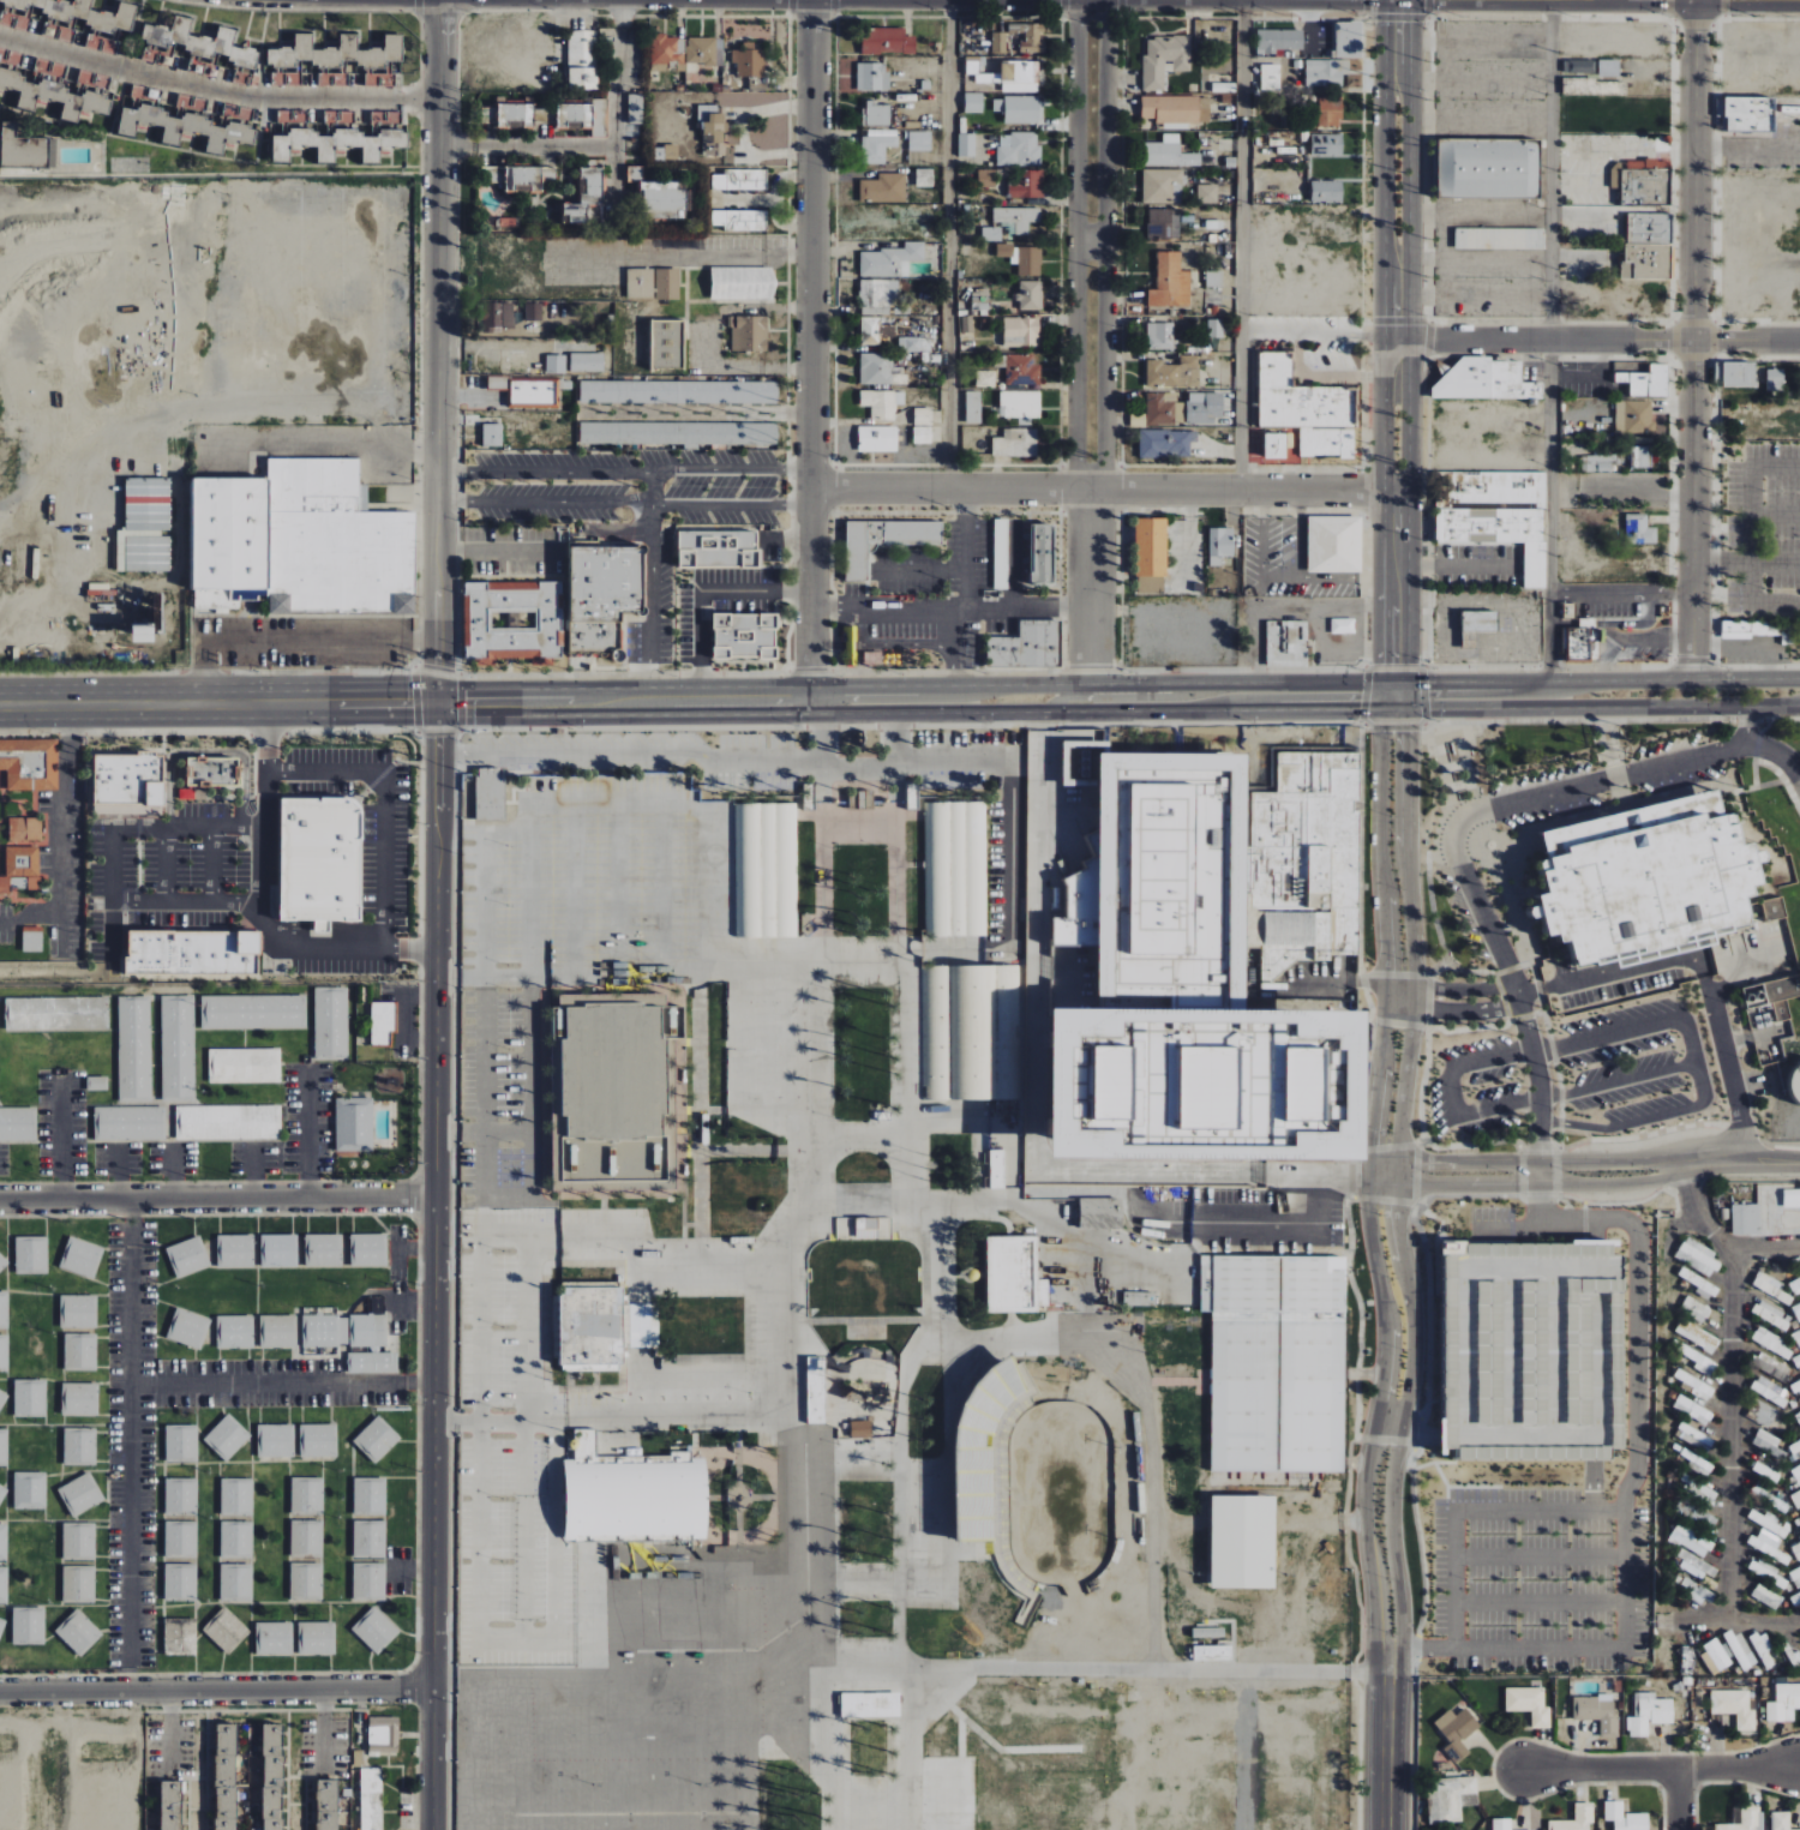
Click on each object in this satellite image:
building: (65, 19)
building: (1030, 36)
building: (1278, 40)
building: (1349, 40)
building: (197, 41)
building: (887, 41)
building: (1000, 42)
building: (704, 50)
building: (666, 53)
building: (151, 55)
building: (10, 58)
building: (582, 59)
building: (336, 60)
building: (1164, 60)
building: (749, 62)
building: (198, 67)
building: (1608, 67)
building: (1330, 73)
building: (1020, 76)
building: (872, 77)
building: (1270, 77)
road: (215, 89)
building: (59, 90)
building: (731, 98)
building: (973, 102)
building: (635, 108)
building: (1020, 108)
building: (1176, 109)
building: (1328, 112)
building: (876, 113)
building: (1750, 114)
building: (290, 115)
building: (510, 115)
building: (338, 116)
building: (582, 116)
building: (188, 126)
building: (712, 131)
building: (919, 140)
building: (337, 143)
building: (966, 145)
building: (1327, 145)
road: (595, 146)
building: (24, 149)
building: (876, 149)
building: (1019, 149)
building: (666, 152)
building: (1169, 152)
building: (1488, 168)
building: (635, 173)
building: (924, 178)
building: (986, 178)
building: (740, 180)
building: (1642, 182)
building: (1027, 185)
building: (1162, 186)
building: (883, 187)
road: (1398, 188)
building: (1326, 191)
building: (1207, 193)
building: (583, 196)
building: (661, 199)
building: (1016, 218)
building: (740, 220)
building: (1164, 224)
building: (205, 229)
building: (991, 234)
building: (1499, 239)
road: (948, 244)
building: (1648, 246)
road: (683, 256)
building: (1021, 258)
building: (889, 259)
building: (1214, 278)
building: (1170, 282)
building: (640, 283)
building: (742, 283)
building: (667, 284)
building: (878, 293)
building: (1030, 295)
building: (533, 312)
building: (497, 316)
building: (1216, 329)
building: (870, 330)
building: (1021, 331)
road: (438, 334)
building: (749, 334)
road: (1321, 334)
building: (1160, 336)
road: (1598, 338)
road: (714, 340)
road: (1691, 340)
road: (1547, 341)
road: (1090, 342)
road: (1247, 342)
building: (666, 343)
road: (809, 343)
building: (914, 344)
building: (584, 360)
building: (876, 368)
building: (1021, 371)
building: (1174, 372)
building: (1735, 374)
road: (1327, 377)
building: (985, 378)
building: (1775, 378)
building: (1466, 379)
building: (1646, 382)
building: (497, 383)
building: (678, 391)
building: (534, 394)
building: (882, 403)
building: (1020, 404)
road: (250, 407)
building: (973, 408)
building: (1307, 408)
building: (1164, 409)
building: (923, 416)
building: (1627, 416)
building: (678, 433)
building: (492, 434)
building: (923, 436)
building: (877, 438)
building: (1015, 443)
building: (1166, 444)
building: (1640, 457)
building: (1597, 463)
road: (624, 468)
road: (1109, 488)
road: (624, 503)
building: (146, 504)
building: (1495, 514)
road: (1754, 517)
road: (1384, 518)
road: (1408, 518)
building: (1639, 529)
building: (883, 541)
building: (299, 542)
building: (1334, 544)
building: (1219, 545)
road: (499, 550)
building: (718, 550)
building: (1040, 553)
building: (1001, 554)
building: (1150, 556)
building: (14, 558)
road: (1723, 562)
road: (652, 563)
road: (706, 588)
building: (98, 589)
building: (600, 592)
road: (888, 606)
road: (970, 606)
building: (152, 620)
building: (512, 622)
building: (1343, 626)
building: (1476, 626)
building: (1753, 629)
building: (138, 634)
building: (744, 636)
building: (1582, 643)
road: (954, 646)
building: (1027, 647)
traffic signals: (1385, 666)
traffic signals: (439, 670)
road: (205, 679)
road: (439, 680)
road: (1613, 682)
traffic signals: (1427, 683)
road: (1396, 684)
road: (914, 686)
road: (206, 691)
road: (426, 691)
road: (452, 691)
traffic signals: (466, 691)
road: (1139, 698)
road: (1382, 698)
road: (1410, 698)
road: (439, 704)
road: (1590, 708)
road: (1775, 708)
traffic signals: (1361, 710)
road: (1394, 710)
road: (912, 714)
road: (206, 718)
traffic signals: (413, 718)
road: (426, 718)
road: (451, 718)
road: (439, 727)
road: (1745, 727)
traffic signals: (1411, 732)
traffic signals: (439, 737)
road: (439, 745)
road: (205, 752)
road: (582, 752)
road: (1775, 754)
building: (30, 764)
road: (773, 767)
road: (842, 767)
building: (209, 770)
building: (127, 784)
building: (490, 794)
building: (865, 800)
road: (384, 803)
road: (1045, 803)
road: (710, 804)
road: (64, 826)
building: (25, 829)
road: (116, 829)
building: (1306, 859)
road: (1381, 860)
road: (1459, 860)
building: (319, 862)
road: (164, 865)
road: (211, 865)
building: (20, 868)
building: (956, 869)
building: (1164, 869)
building: (767, 870)
building: (1640, 881)
road: (486, 882)
road: (578, 889)
road: (622, 889)
road: (665, 890)
road: (264, 901)
road: (187, 904)
building: (1774, 910)
building: (1072, 914)
road: (30, 916)
building: (31, 938)
building: (191, 952)
building: (1234, 973)
road: (499, 976)
road: (522, 976)
road: (1450, 989)
building: (1774, 996)
building: (253, 1012)
road: (1451, 1012)
building: (56, 1014)
building: (382, 1022)
building: (331, 1024)
building: (967, 1033)
building: (134, 1048)
building: (178, 1048)
road: (485, 1054)
building: (245, 1066)
building: (1130, 1072)
road: (1452, 1074)
road: (1732, 1079)
building: (97, 1084)
building: (1795, 1085)
building: (1104, 1087)
building: (1296, 1088)
building: (1201, 1092)
building: (1349, 1099)
building: (1129, 1112)
road: (1642, 1121)
building: (228, 1122)
building: (18, 1124)
building: (130, 1124)
building: (354, 1124)
road: (307, 1132)
road: (60, 1134)
building: (1075, 1142)
building: (1202, 1157)
road: (532, 1169)
building: (997, 1170)
road: (1583, 1171)
road: (1396, 1194)
building: (1792, 1196)
road: (217, 1199)
road: (1720, 1240)
building: (368, 1249)
building: (235, 1250)
building: (278, 1250)
building: (323, 1250)
building: (31, 1255)
building: (80, 1256)
building: (187, 1256)
building: (1698, 1256)
building: (2, 1262)
building: (1014, 1274)
building: (1700, 1284)
road: (434, 1291)
road: (1637, 1298)
building: (4, 1309)
building: (78, 1310)
road: (1387, 1322)
building: (1780, 1322)
building: (590, 1325)
building: (642, 1325)
building: (187, 1328)
building: (368, 1330)
building: (234, 1331)
building: (278, 1331)
building: (324, 1333)
building: (1697, 1336)
building: (1796, 1338)
building: (1770, 1342)
building: (1571, 1348)
building: (4, 1351)
building: (80, 1351)
building: (1484, 1351)
building: (1534, 1358)
building: (1699, 1360)
building: (1796, 1361)
building: (372, 1362)
building: (1277, 1362)
road: (283, 1384)
building: (1795, 1387)
building: (816, 1388)
building: (1697, 1388)
building: (2, 1397)
building: (30, 1398)
building: (79, 1398)
building: (1693, 1409)
building: (1577, 1411)
road: (527, 1418)
road: (1390, 1422)
road: (504, 1424)
road: (542, 1424)
building: (860, 1428)
building: (227, 1436)
building: (377, 1439)
building: (275, 1440)
building: (318, 1440)
road: (131, 1442)
building: (181, 1442)
building: (979, 1444)
building: (1768, 1444)
building: (79, 1446)
building: (4, 1447)
building: (1696, 1462)
road: (1733, 1465)
building: (1796, 1472)
building: (30, 1489)
building: (1698, 1489)
building: (2, 1492)
building: (80, 1494)
building: (307, 1494)
building: (631, 1494)
building: (181, 1495)
building: (238, 1495)
building: (370, 1495)
building: (1795, 1496)
building: (1778, 1505)
building: (1769, 1523)
road: (557, 1530)
building: (181, 1538)
building: (236, 1538)
building: (307, 1538)
building: (370, 1538)
building: (78, 1541)
building: (1242, 1541)
road: (1622, 1541)
building: (4, 1542)
building: (1770, 1544)
building: (1796, 1549)
road: (1538, 1554)
building: (1696, 1565)
building: (1795, 1576)
building: (306, 1580)
building: (181, 1582)
building: (236, 1582)
building: (370, 1582)
building: (79, 1583)
building: (4, 1584)
building: (1697, 1591)
road: (1538, 1602)
road: (1703, 1619)
building: (29, 1625)
building: (2, 1627)
building: (226, 1630)
building: (374, 1630)
building: (78, 1631)
building: (1208, 1632)
road: (539, 1634)
building: (180, 1636)
building: (274, 1638)
building: (316, 1638)
building: (1212, 1652)
building: (1715, 1657)
road: (1391, 1661)
road: (1147, 1670)
road: (215, 1686)
building: (1783, 1703)
building: (870, 1704)
building: (1529, 1704)
building: (1734, 1706)
building: (1596, 1711)
building: (1649, 1714)
building: (1456, 1732)
building: (383, 1735)
road: (1388, 1751)
road: (1657, 1769)
building: (224, 1776)
building: (271, 1776)
building: (1448, 1798)
building: (371, 1799)
road: (1679, 1800)
building: (325, 1804)
building: (169, 1805)
building: (1625, 1817)
building: (1576, 1818)
building: (1742, 1820)
building: (1781, 1820)
building: (1501, 1824)

